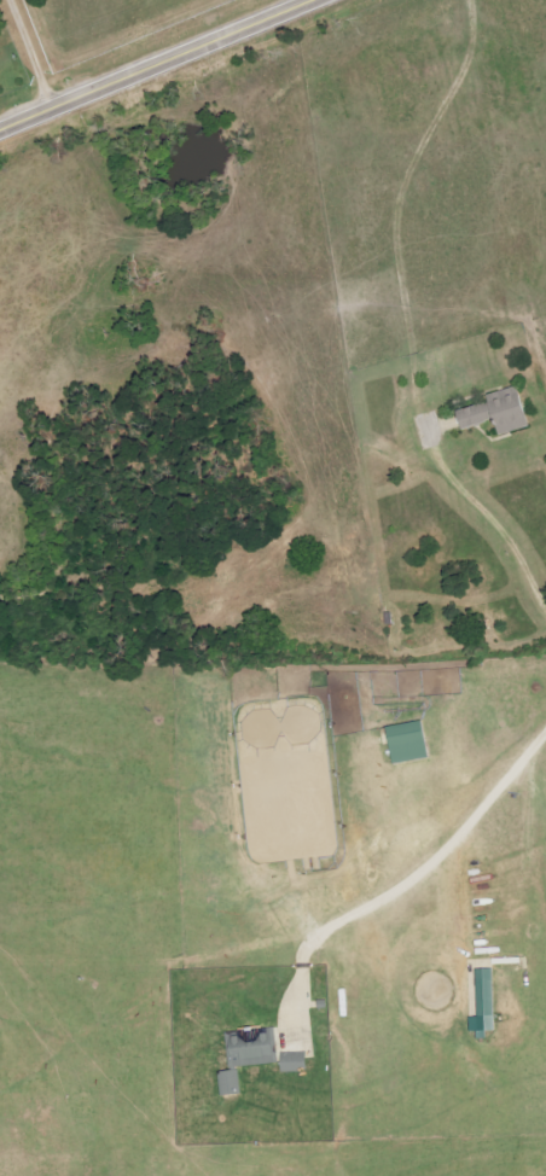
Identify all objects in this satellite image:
road: (33, 56)
road: (162, 68)
building: (498, 413)
building: (408, 743)
road: (431, 861)
building: (484, 1003)
building: (252, 1047)
building: (292, 1052)
building: (230, 1082)

